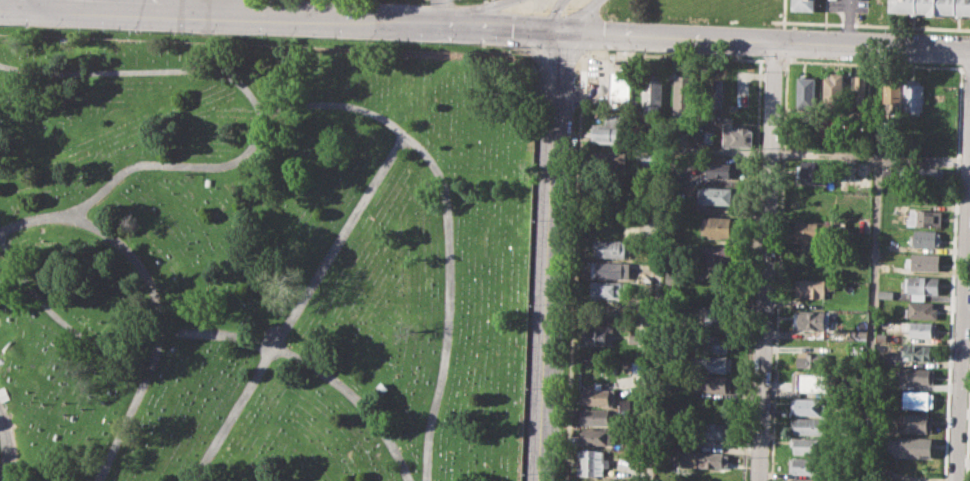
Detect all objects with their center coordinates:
road: (29, 2)
road: (173, 5)
building: (805, 6)
building: (932, 8)
road: (440, 11)
road: (472, 11)
road: (553, 14)
road: (279, 15)
road: (579, 16)
road: (869, 24)
traffic signals: (559, 28)
road: (779, 31)
road: (764, 39)
road: (148, 71)
building: (834, 90)
building: (891, 90)
building: (860, 91)
building: (653, 92)
building: (684, 93)
building: (714, 93)
building: (806, 93)
building: (625, 95)
building: (913, 96)
road: (396, 124)
building: (826, 128)
building: (611, 129)
building: (736, 135)
road: (824, 154)
building: (610, 159)
building: (645, 161)
building: (722, 168)
building: (816, 171)
building: (863, 173)
building: (885, 174)
building: (924, 175)
building: (718, 195)
building: (923, 217)
building: (719, 225)
building: (813, 232)
building: (925, 238)
building: (612, 247)
road: (550, 254)
park: (263, 256)
building: (715, 256)
road: (656, 259)
road: (768, 260)
building: (923, 261)
building: (610, 268)
road: (871, 271)
building: (674, 279)
building: (921, 285)
building: (609, 288)
building: (809, 288)
building: (884, 293)
road: (159, 297)
road: (298, 306)
road: (962, 309)
building: (920, 310)
building: (710, 314)
building: (805, 320)
building: (920, 328)
building: (600, 334)
building: (882, 336)
building: (637, 337)
building: (709, 342)
building: (920, 352)
building: (887, 357)
building: (801, 360)
building: (712, 363)
road: (311, 364)
building: (638, 368)
building: (917, 375)
building: (809, 382)
building: (713, 383)
building: (598, 394)
building: (918, 399)
building: (624, 402)
building: (810, 406)
building: (598, 416)
building: (915, 422)
building: (808, 426)
building: (716, 430)
building: (596, 436)
building: (806, 446)
building: (914, 447)
road: (5, 452)
building: (704, 459)
building: (593, 461)
building: (806, 465)
building: (632, 479)
building: (805, 479)

